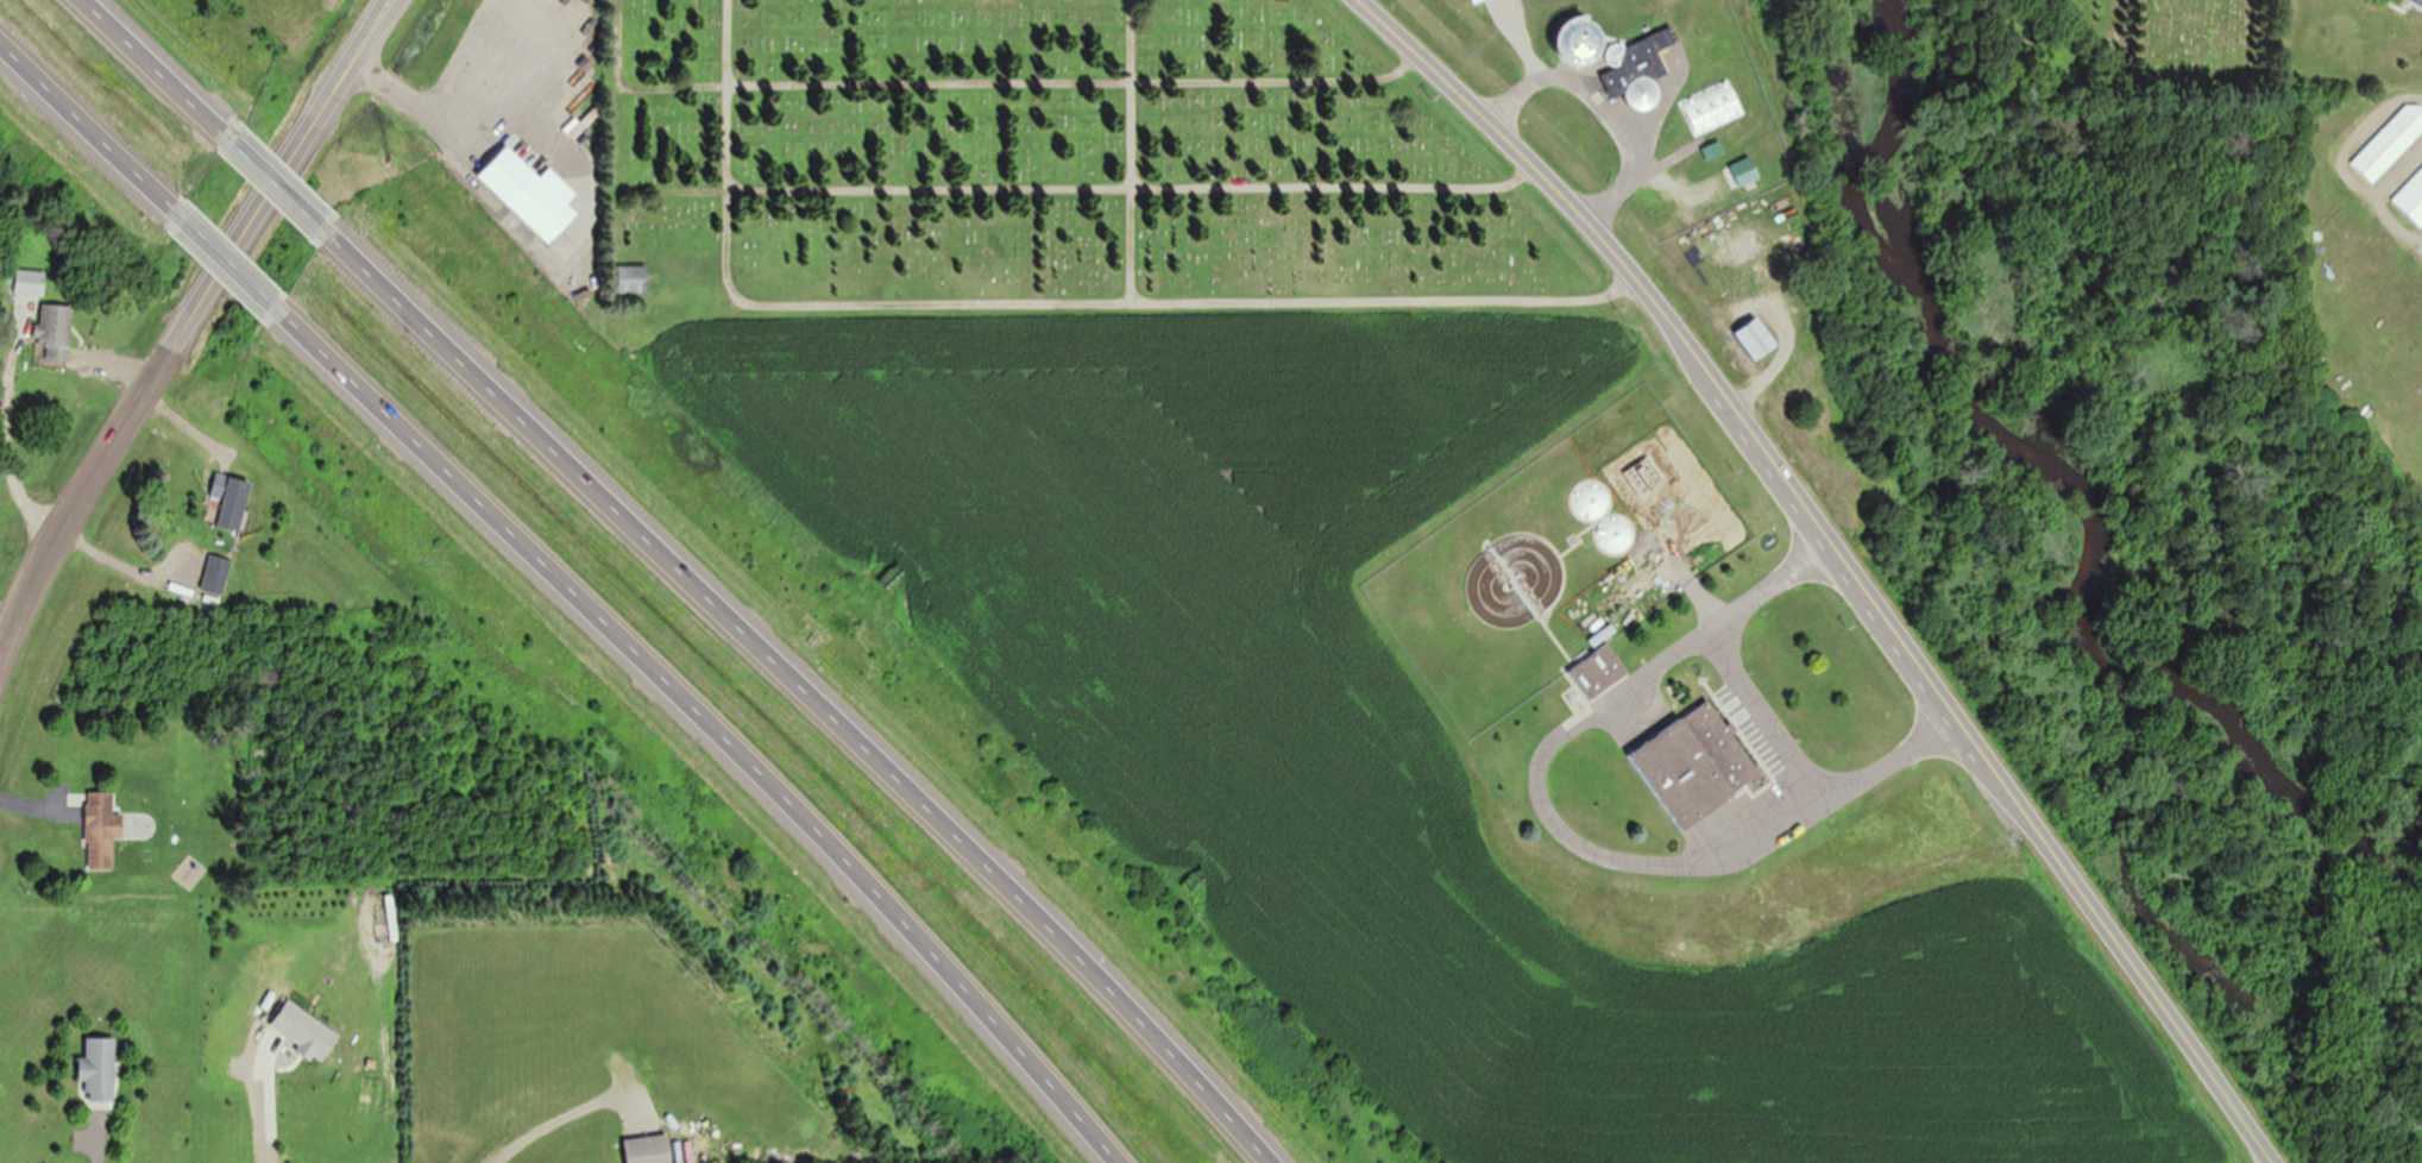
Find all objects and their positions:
building: (1474, 1)
building: (2409, 1)
park: (2147, 43)
road: (159, 69)
building: (1642, 73)
road: (1078, 86)
building: (1711, 108)
road: (1598, 109)
road: (82, 131)
building: (2390, 143)
road: (1134, 149)
building: (1709, 152)
park: (1059, 182)
road: (283, 187)
road: (983, 193)
building: (530, 194)
building: (2411, 199)
road: (224, 262)
building: (633, 279)
building: (29, 282)
road: (1039, 300)
road: (187, 326)
building: (55, 331)
building: (1755, 339)
building: (229, 499)
road: (1841, 558)
building: (215, 573)
road: (8, 614)
building: (1597, 671)
road: (811, 692)
road: (1760, 721)
road: (703, 729)
crop: (1404, 759)
building: (1696, 765)
building: (101, 830)
road: (1559, 832)
building: (99, 1069)
building: (648, 1150)

